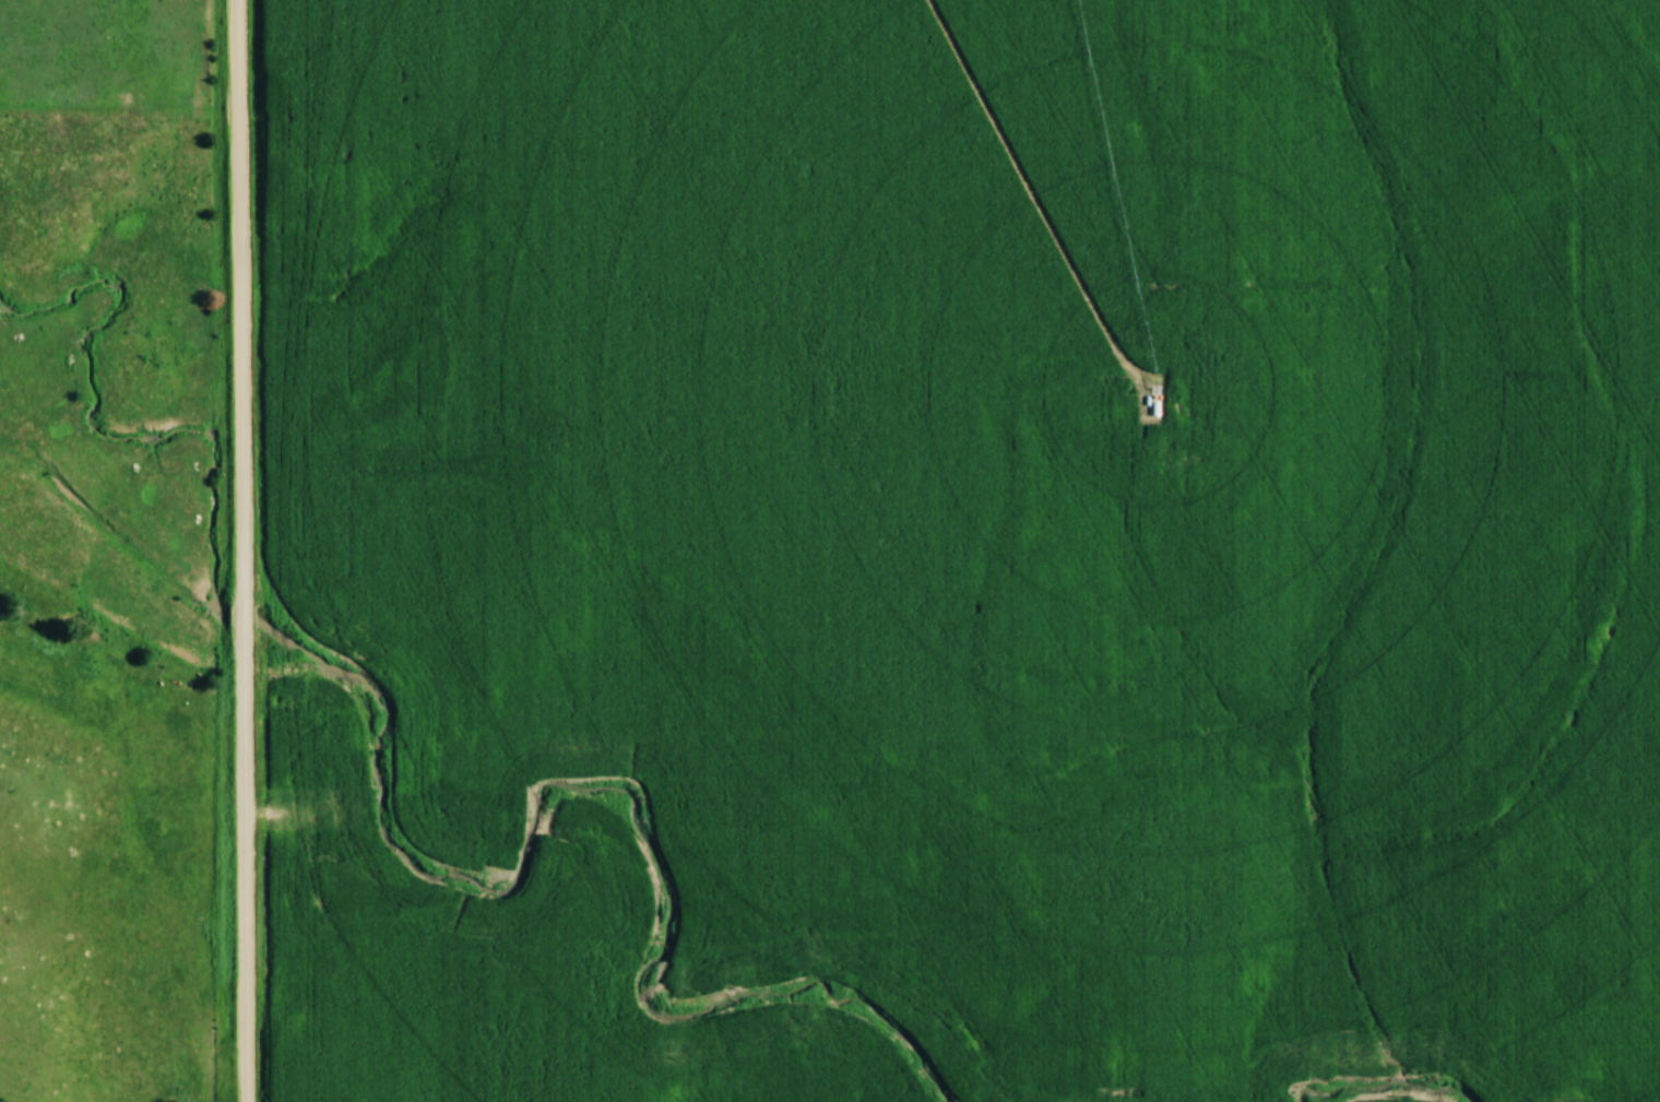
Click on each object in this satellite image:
road: (241, 550)

